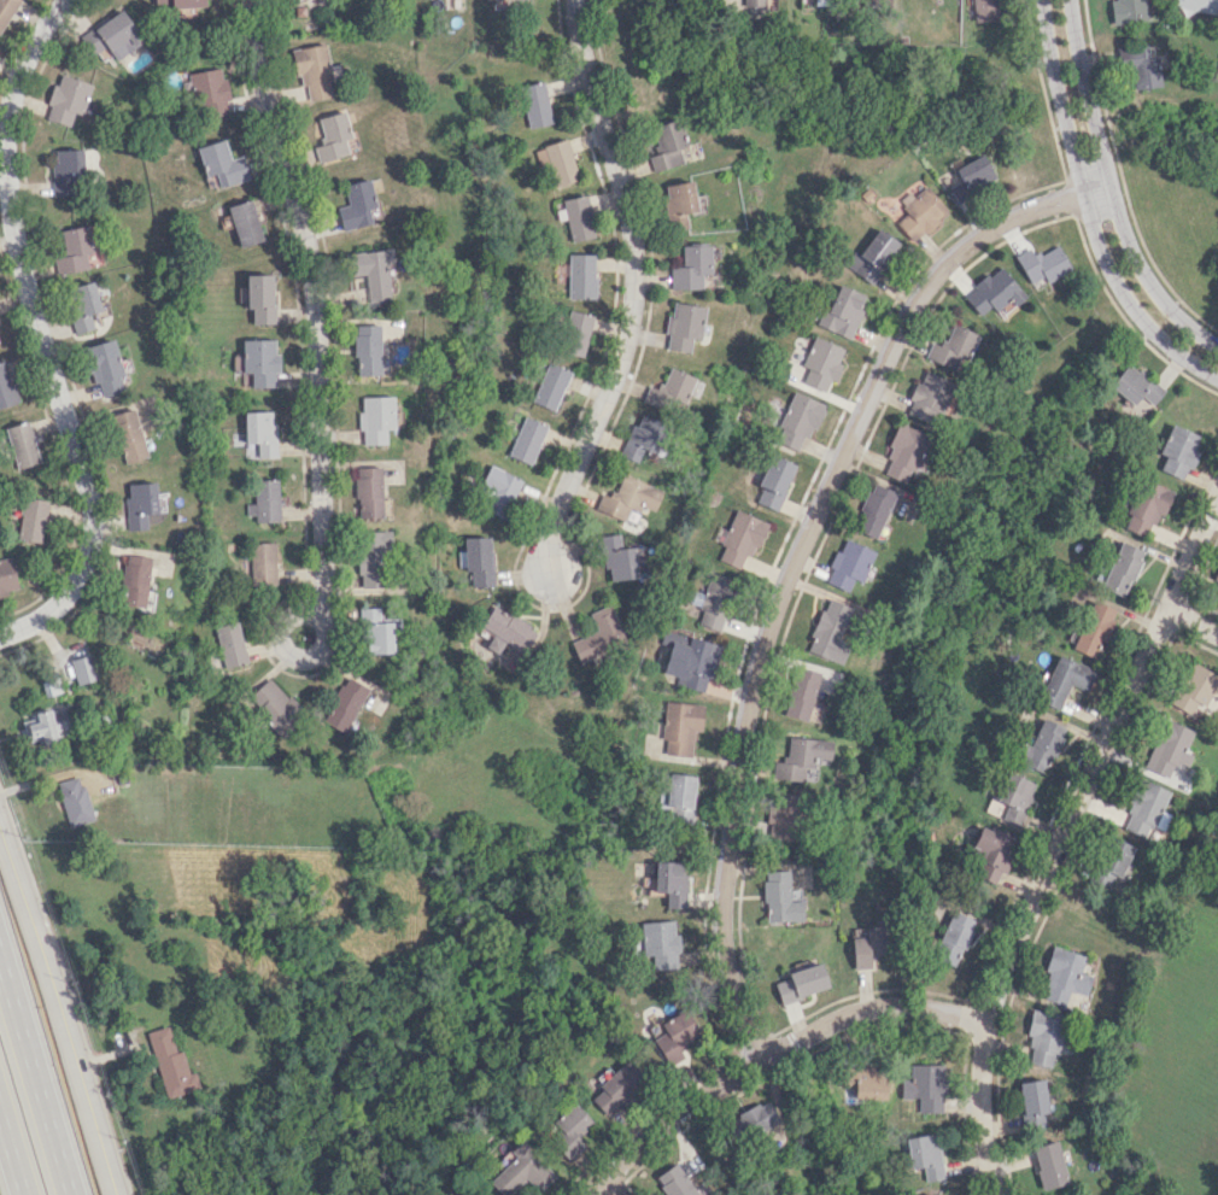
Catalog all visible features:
building: (753, 2)
building: (177, 4)
building: (503, 4)
building: (1197, 5)
building: (983, 10)
building: (1126, 11)
building: (6, 12)
building: (112, 35)
building: (1140, 66)
building: (312, 70)
building: (210, 94)
building: (69, 99)
building: (535, 104)
building: (332, 136)
building: (666, 145)
building: (222, 163)
building: (557, 163)
building: (68, 171)
building: (970, 175)
road: (1111, 189)
building: (679, 203)
building: (356, 204)
road: (1089, 211)
building: (919, 212)
building: (576, 217)
building: (244, 222)
building: (74, 247)
building: (872, 256)
building: (1043, 263)
building: (691, 266)
building: (371, 271)
building: (581, 275)
road: (632, 288)
building: (994, 293)
building: (258, 297)
building: (82, 304)
road: (314, 305)
building: (842, 311)
building: (683, 326)
road: (39, 333)
building: (575, 333)
building: (951, 348)
building: (367, 350)
building: (260, 362)
building: (821, 363)
building: (105, 368)
building: (1136, 385)
building: (551, 386)
building: (6, 387)
building: (669, 392)
building: (926, 396)
building: (376, 418)
building: (798, 420)
building: (259, 434)
building: (128, 435)
building: (642, 437)
building: (527, 439)
building: (21, 445)
building: (1179, 451)
building: (901, 453)
building: (774, 481)
building: (368, 492)
building: (498, 492)
building: (628, 499)
building: (264, 500)
building: (139, 503)
building: (1146, 509)
building: (873, 510)
building: (31, 520)
building: (740, 539)
building: (616, 557)
road: (795, 557)
building: (373, 558)
building: (479, 560)
building: (262, 563)
building: (848, 566)
building: (1122, 568)
building: (7, 576)
building: (134, 581)
building: (1214, 585)
building: (713, 601)
road: (315, 619)
road: (1195, 620)
building: (1094, 628)
building: (506, 631)
building: (375, 632)
building: (828, 632)
building: (597, 634)
building: (230, 644)
building: (82, 668)
building: (1065, 680)
building: (1195, 689)
building: (344, 704)
building: (275, 705)
building: (43, 726)
building: (680, 726)
building: (1043, 745)
building: (1170, 748)
building: (801, 758)
building: (677, 798)
building: (74, 801)
building: (1013, 801)
building: (1144, 808)
building: (783, 815)
road: (1066, 844)
building: (991, 854)
building: (1114, 862)
building: (671, 883)
building: (780, 897)
building: (953, 938)
building: (661, 942)
building: (867, 947)
building: (1066, 979)
building: (801, 982)
road: (69, 991)
road: (59, 1008)
building: (675, 1036)
building: (1044, 1037)
road: (767, 1054)
building: (169, 1062)
building: (929, 1079)
building: (869, 1083)
road: (31, 1086)
building: (620, 1086)
building: (1033, 1103)
building: (750, 1123)
building: (570, 1130)
road: (13, 1148)
building: (924, 1154)
building: (1049, 1164)
building: (522, 1170)
building: (675, 1182)
road: (605, 1188)
building: (931, 1194)

